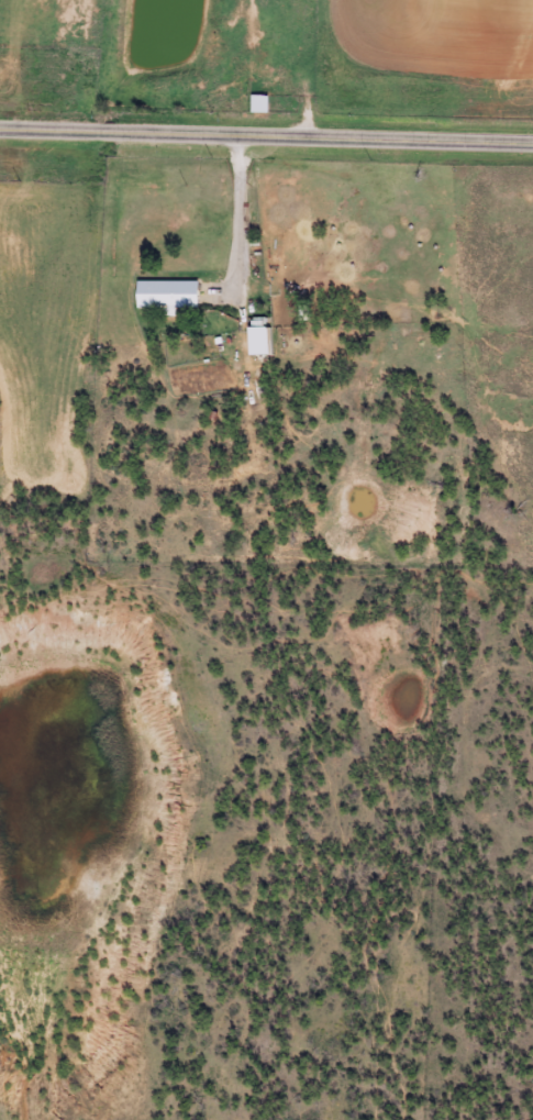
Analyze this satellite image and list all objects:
road: (266, 136)
building: (164, 293)

